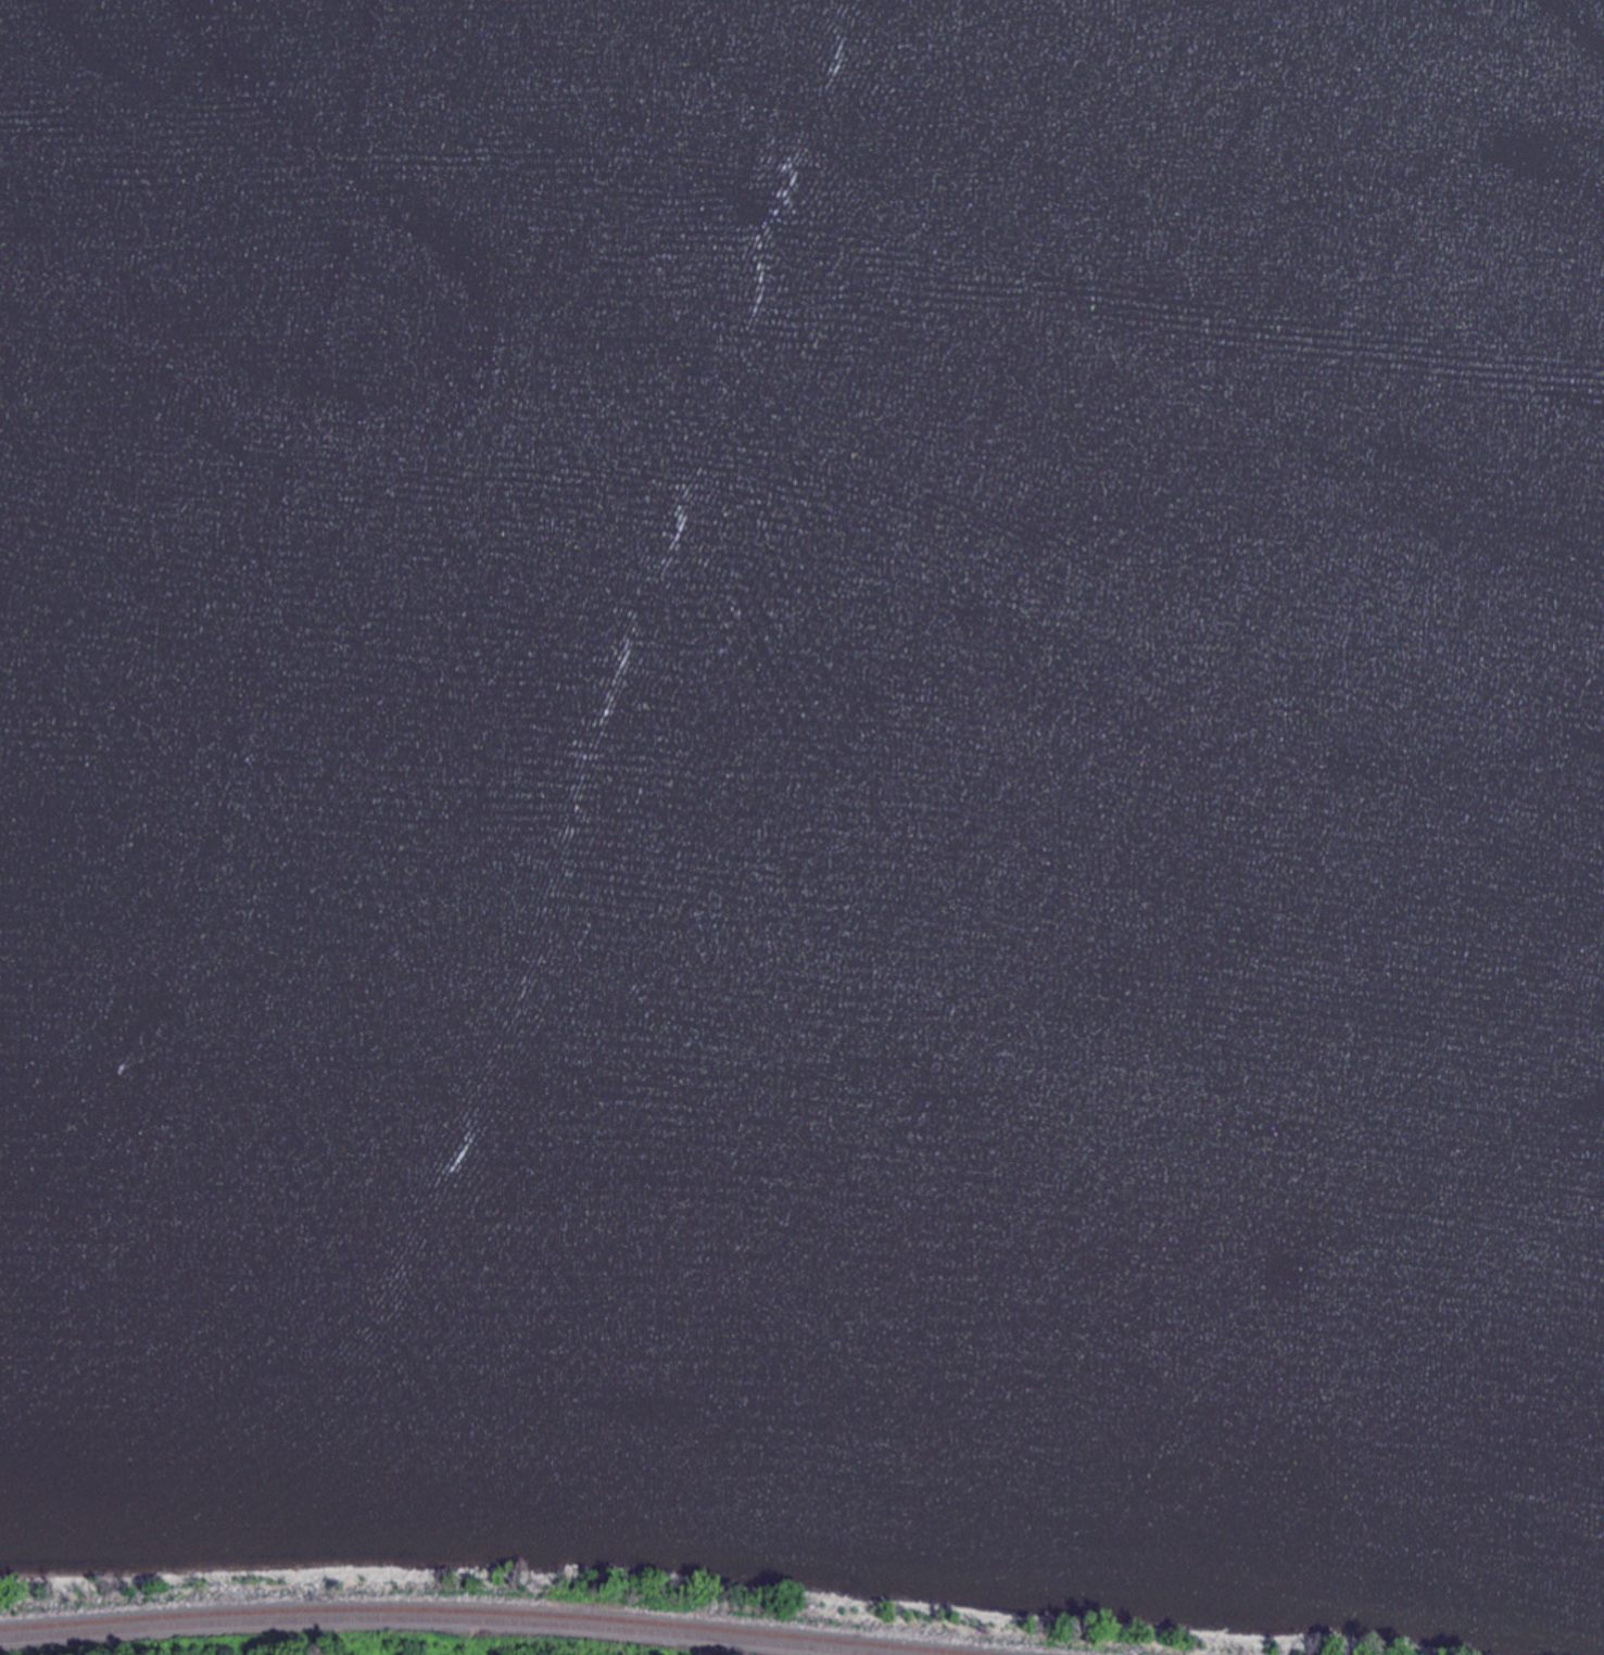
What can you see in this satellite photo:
railway: (485, 1613)
railway: (431, 1620)

